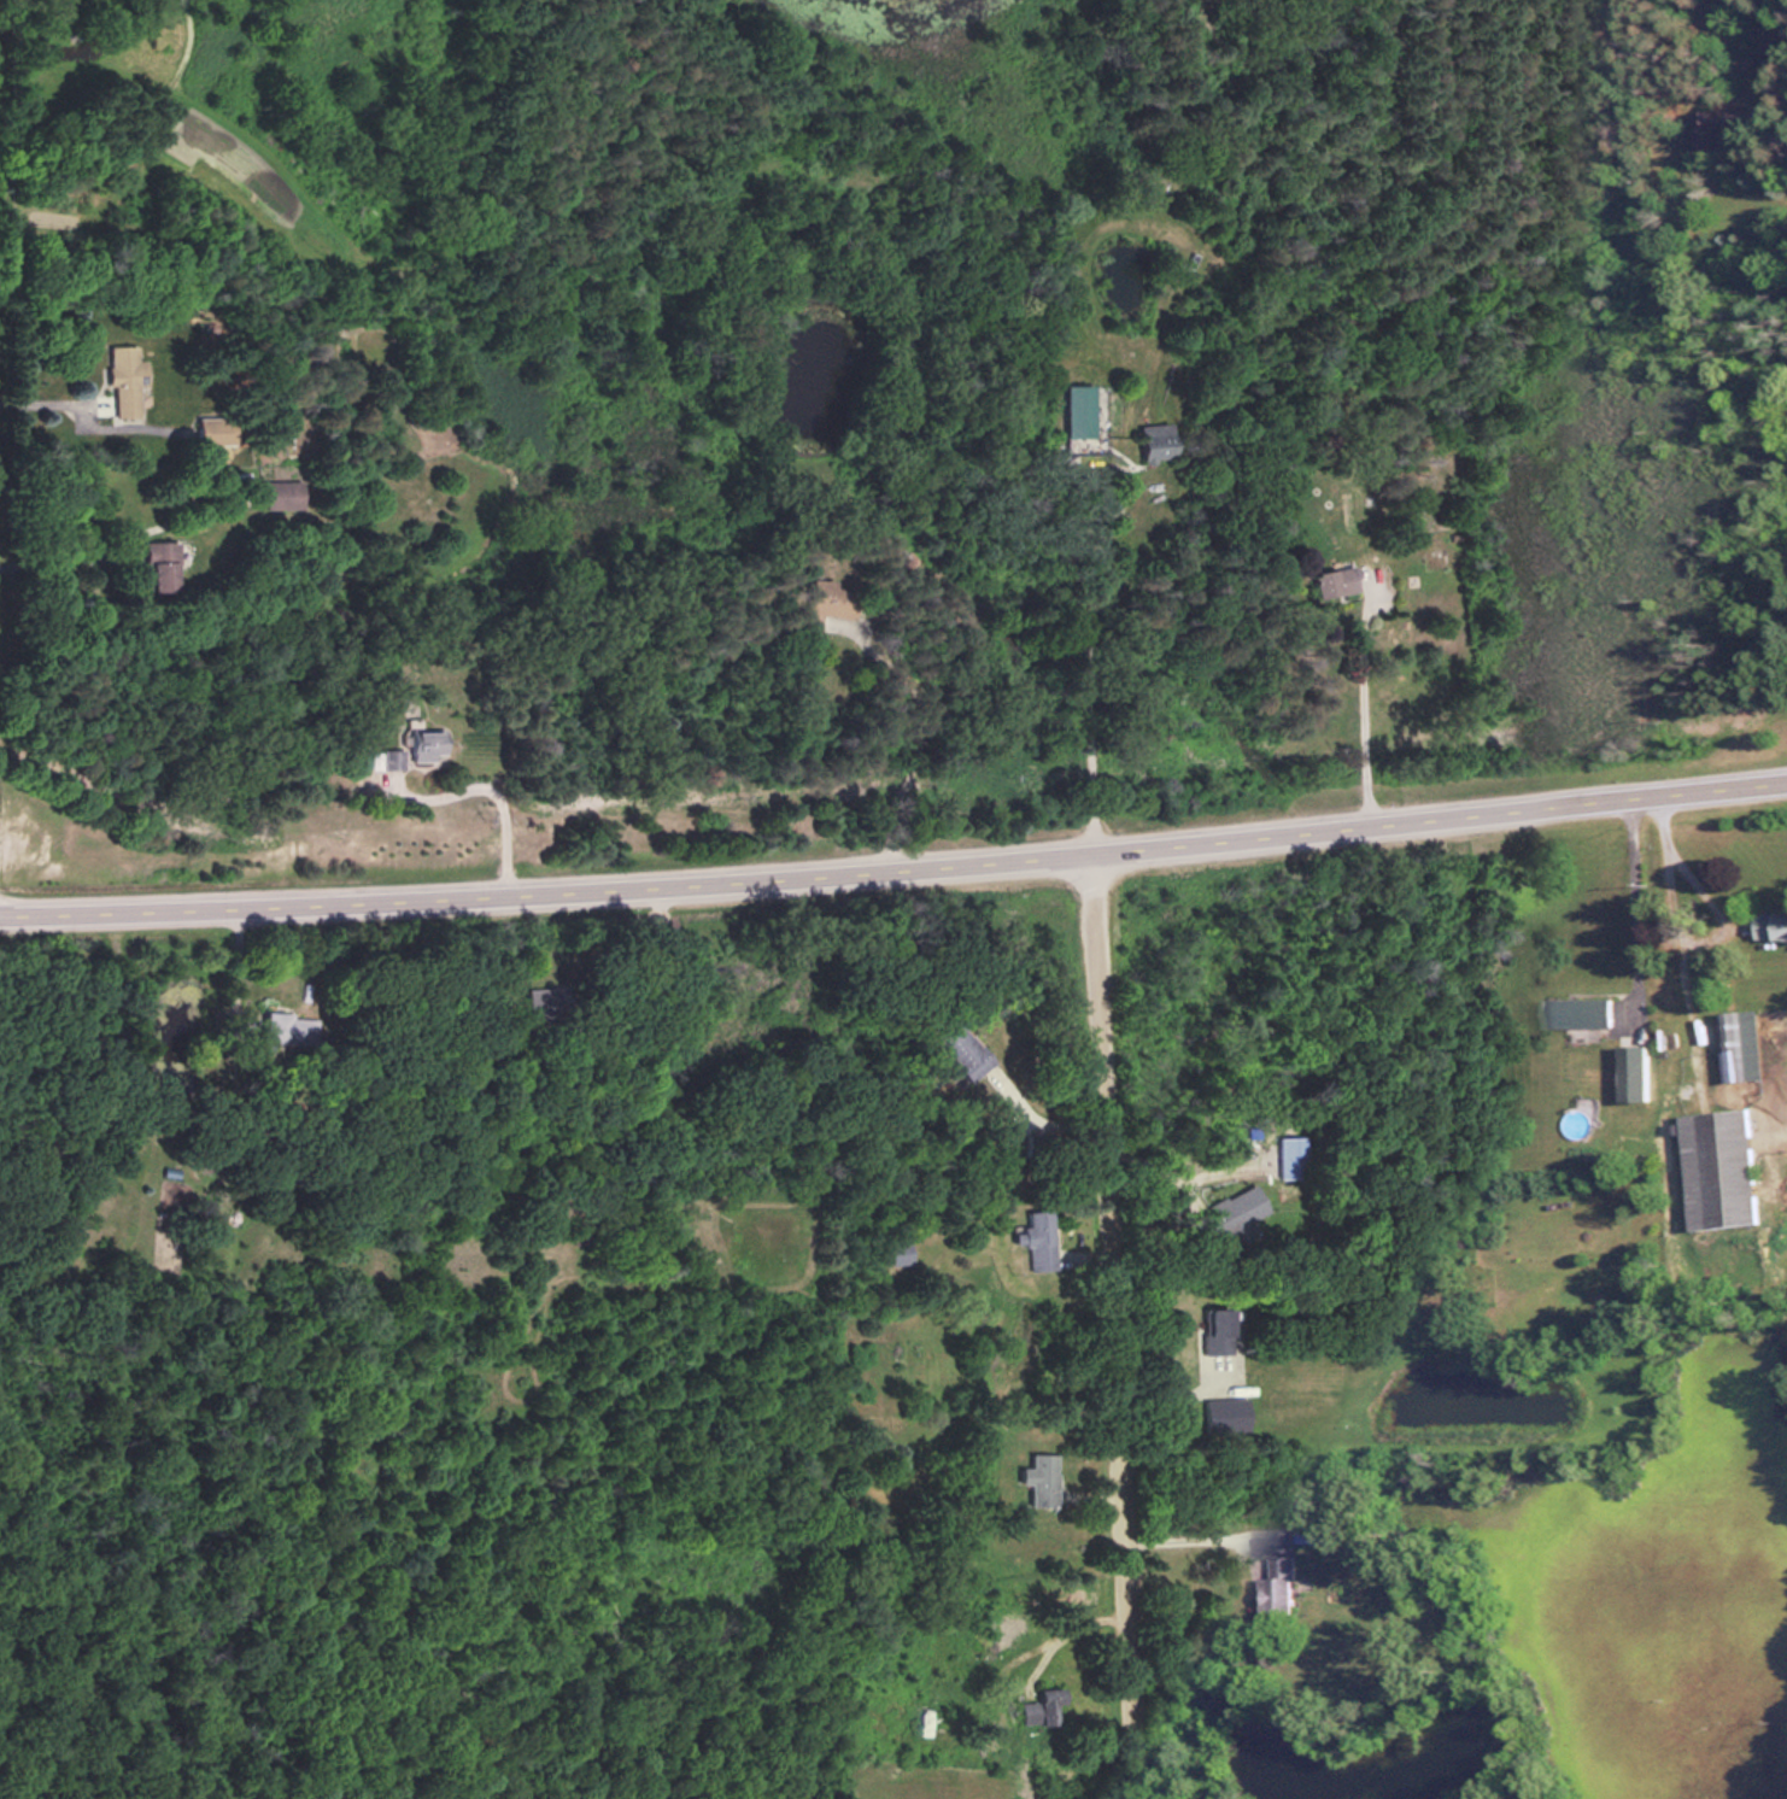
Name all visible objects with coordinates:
building: (123, 380)
building: (1070, 411)
building: (205, 430)
building: (1149, 440)
building: (160, 562)
building: (1325, 582)
building: (816, 604)
building: (406, 750)
road: (895, 862)
building: (1769, 924)
building: (1572, 1012)
building: (1735, 1044)
building: (956, 1049)
building: (1628, 1071)
building: (1715, 1167)
building: (1029, 1238)
road: (1115, 1322)
building: (1208, 1329)
building: (1035, 1478)
building: (1275, 1586)
road: (1057, 1633)
building: (1032, 1709)
building: (918, 1722)

